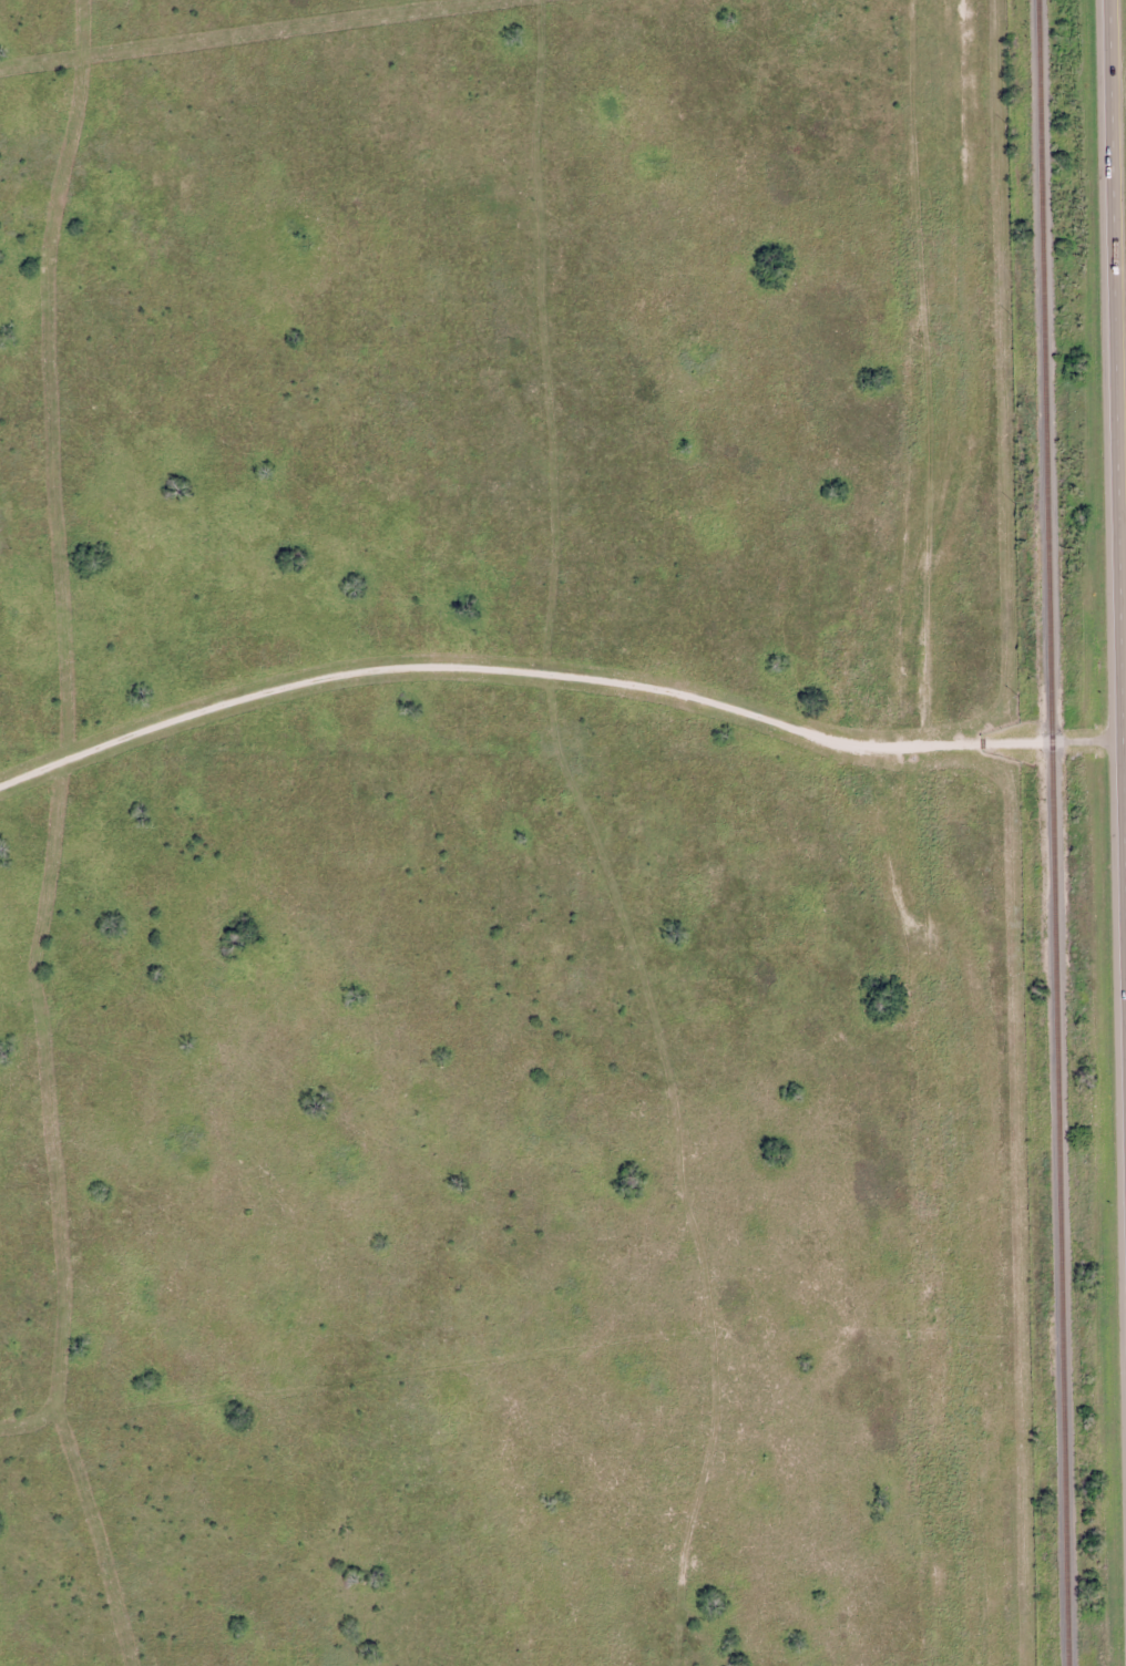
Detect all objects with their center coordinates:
road: (1116, 537)
road: (1122, 738)
railway: (1057, 833)

